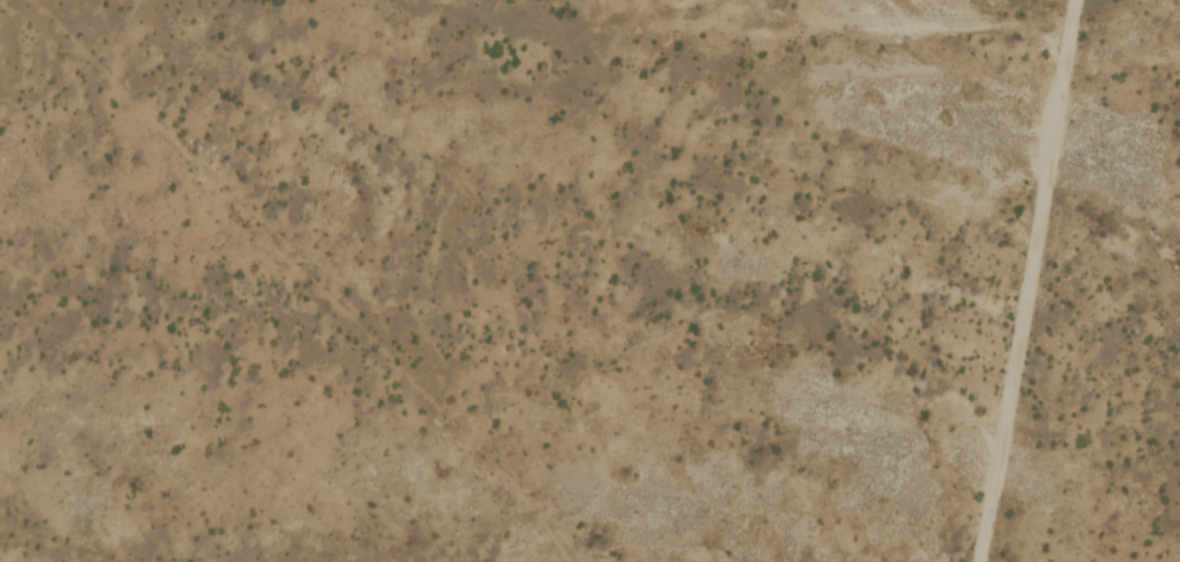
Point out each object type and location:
road: (1018, 281)

